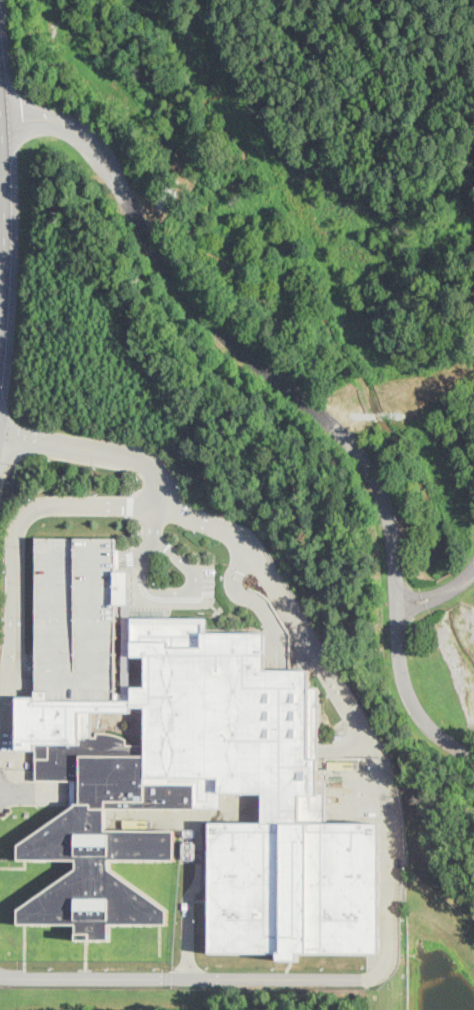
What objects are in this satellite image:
road: (5, 217)
road: (297, 394)
road: (6, 397)
traffic signals: (19, 432)
road: (21, 439)
road: (100, 445)
road: (7, 454)
road: (75, 459)
road: (156, 524)
road: (177, 593)
road: (440, 593)
building: (75, 617)
parking garage: (75, 617)
road: (356, 712)
building: (226, 721)
building: (60, 722)
building: (104, 843)
building: (294, 886)

